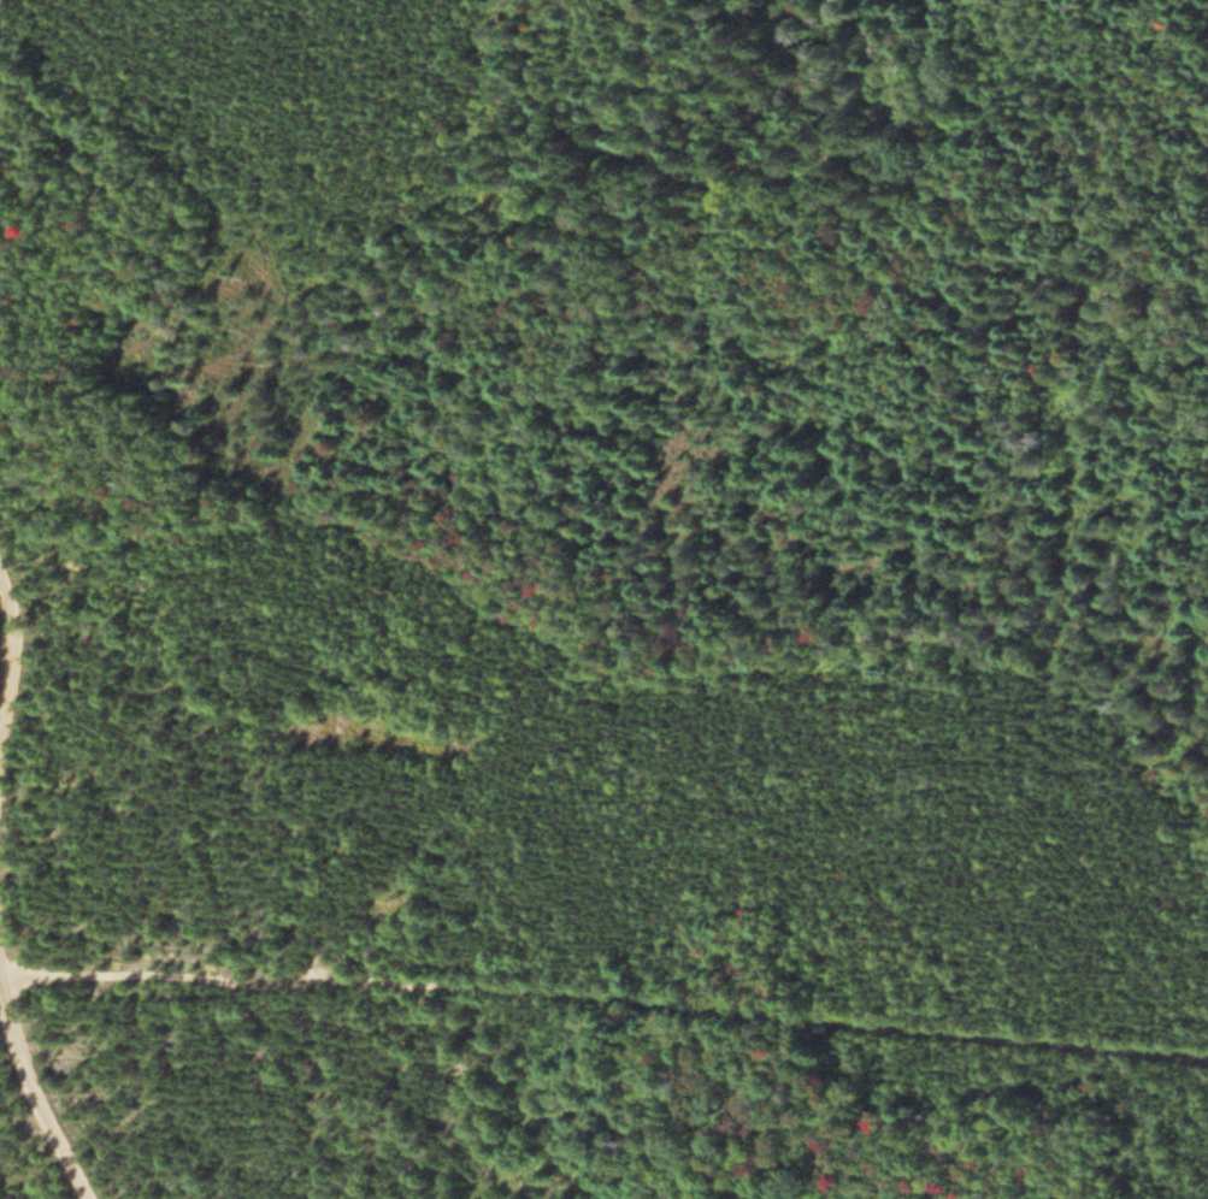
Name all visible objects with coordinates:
road: (16, 656)
road: (605, 1003)
road: (41, 1092)

